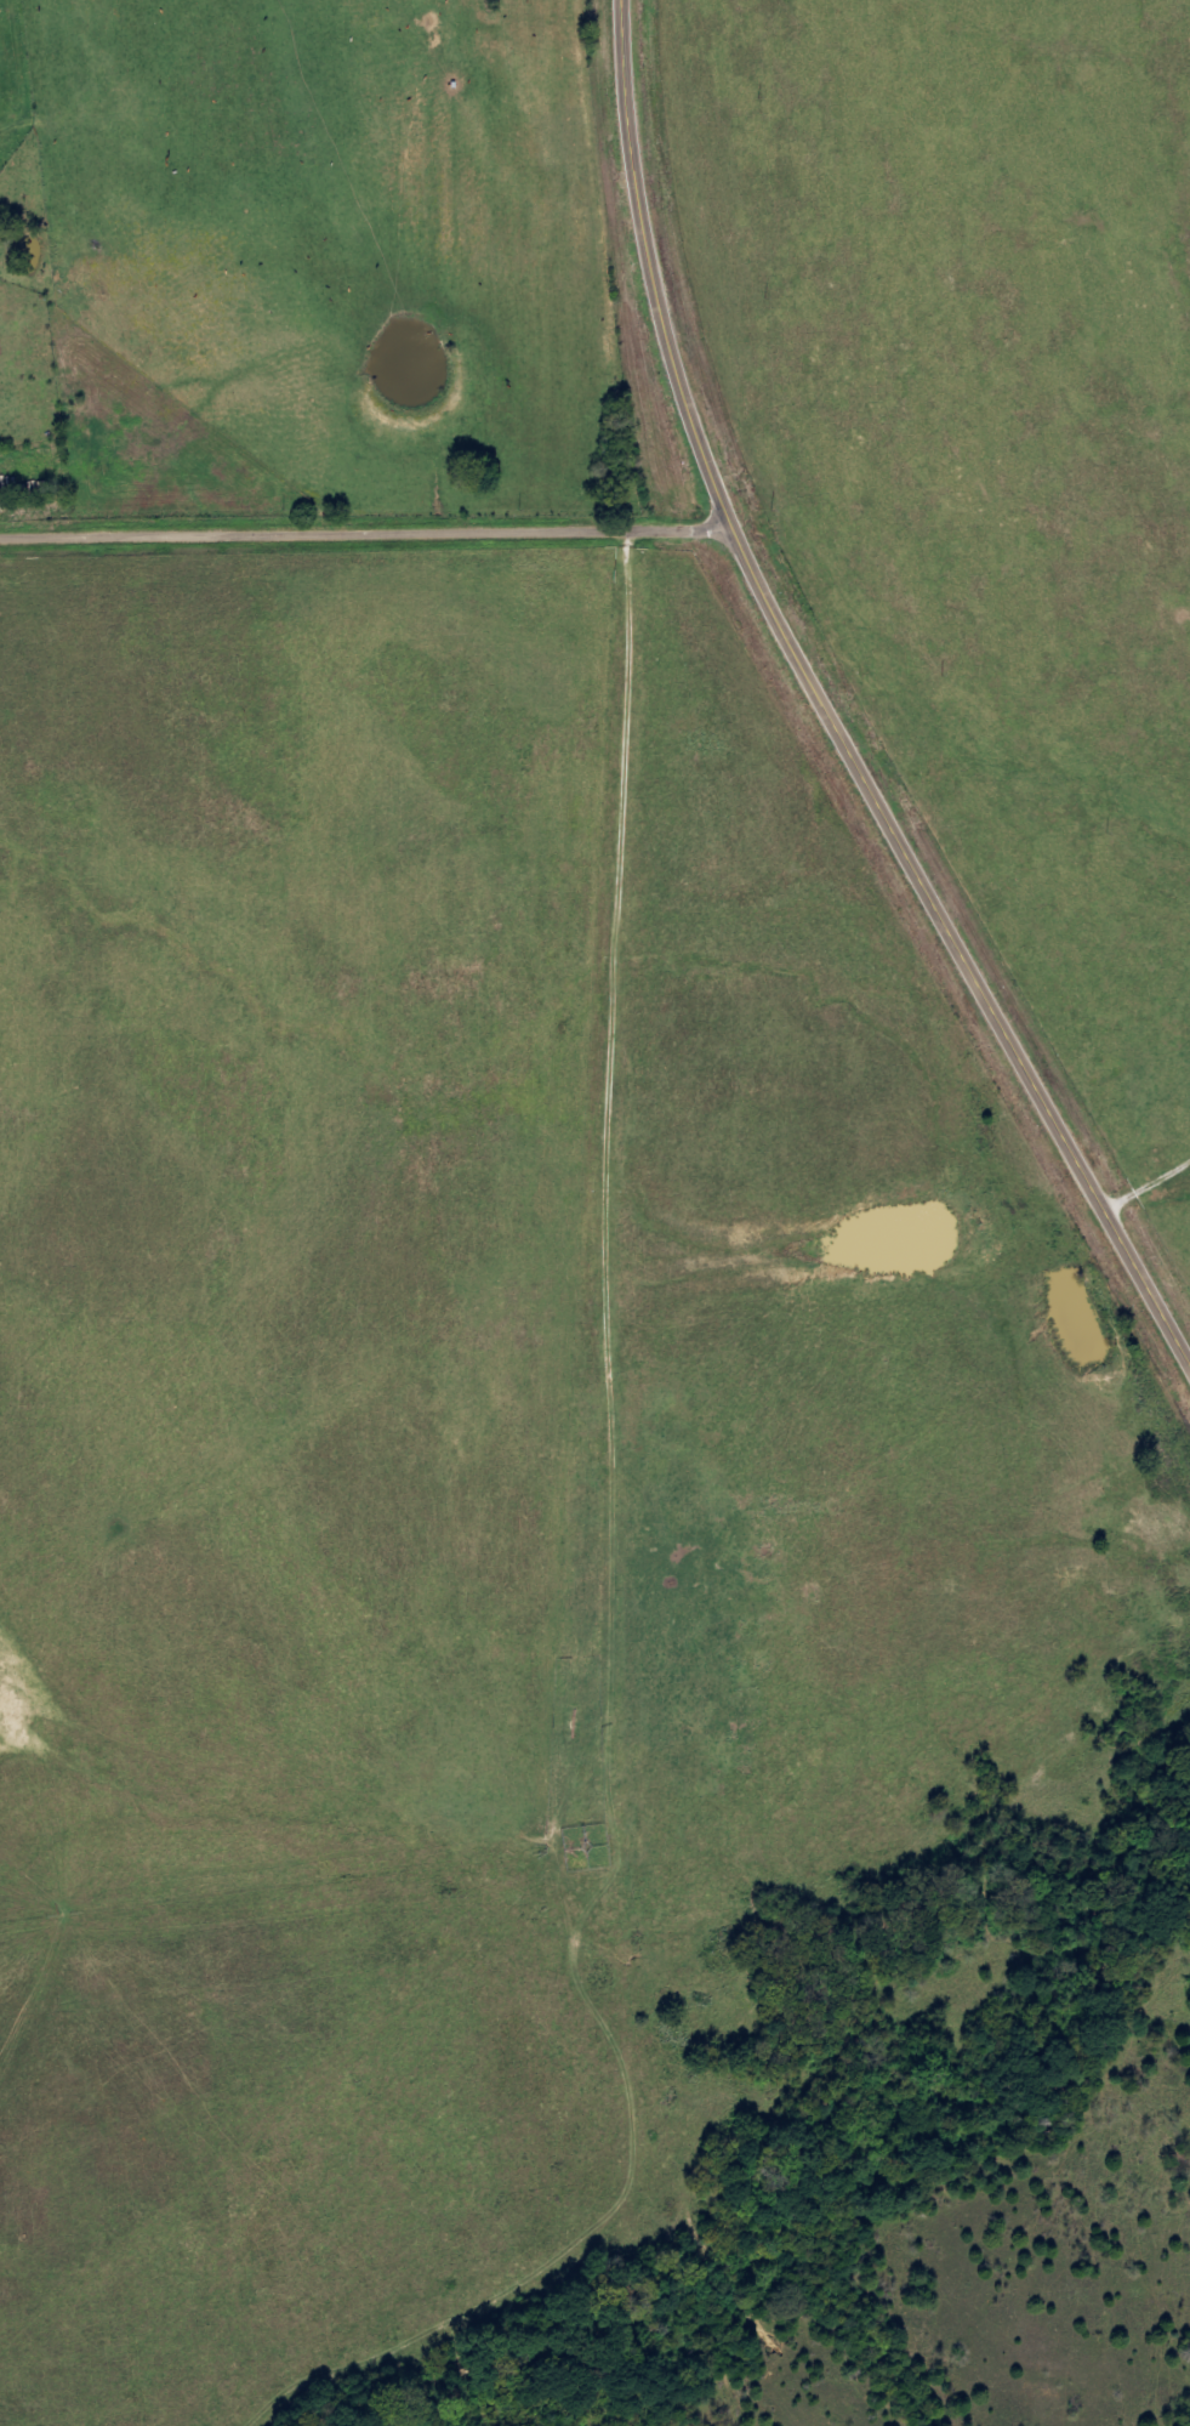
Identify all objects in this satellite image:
road: (365, 538)
road: (827, 710)

